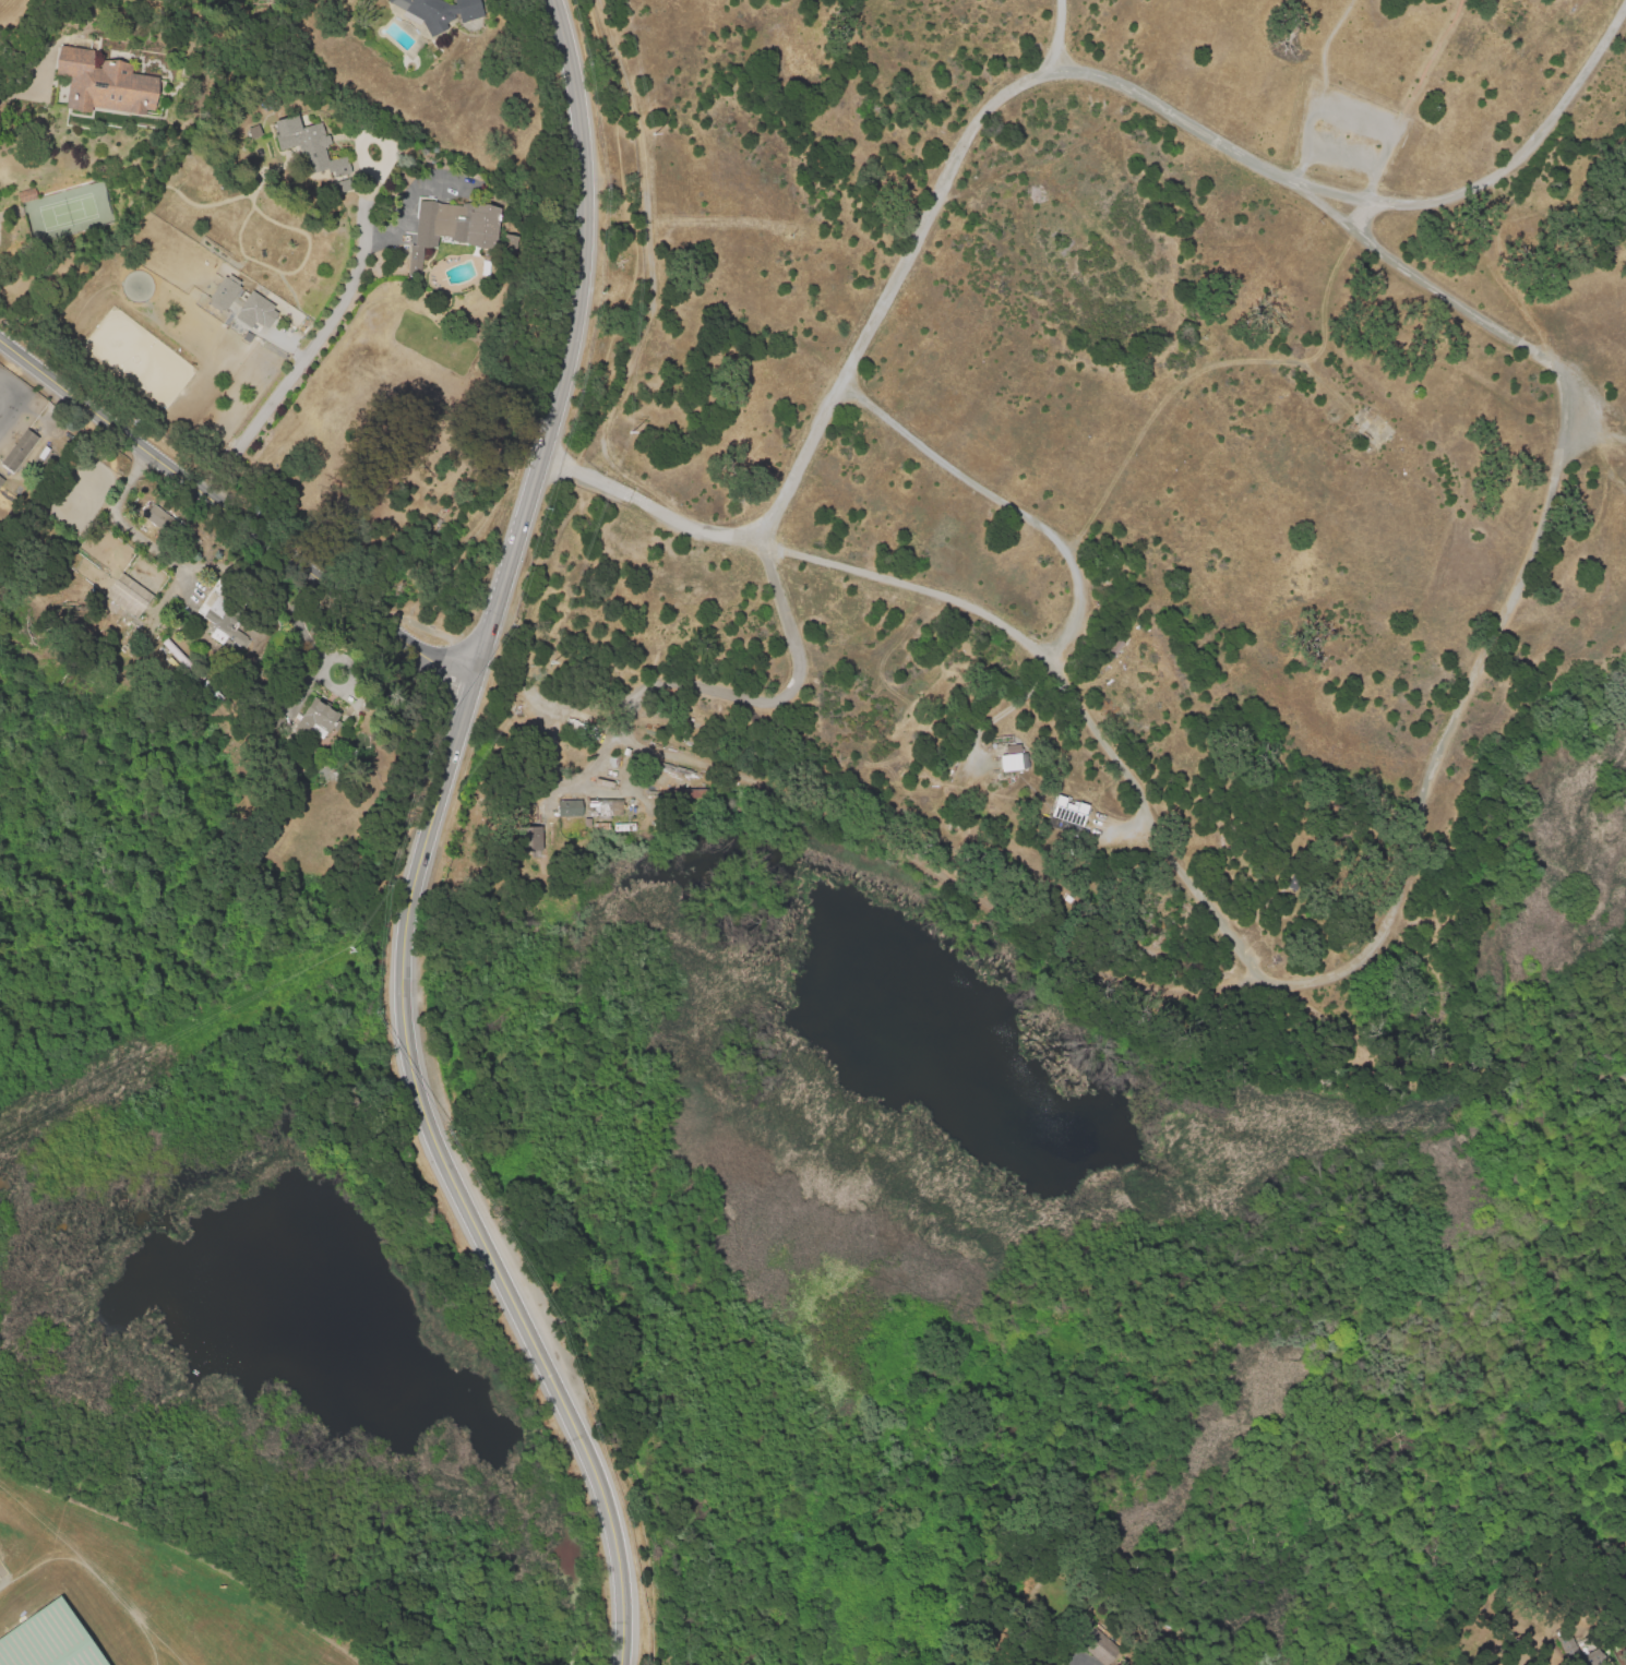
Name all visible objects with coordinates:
building: (439, 13)
road: (1054, 43)
building: (105, 86)
parking lot: (1346, 129)
building: (310, 146)
road: (1230, 147)
road: (1496, 173)
building: (27, 197)
road: (402, 208)
building: (457, 226)
building: (510, 244)
building: (407, 250)
building: (418, 255)
building: (223, 292)
building: (259, 311)
road: (319, 333)
road: (571, 345)
building: (1351, 418)
road: (1598, 432)
building: (1364, 438)
building: (19, 452)
building: (208, 456)
building: (0, 479)
building: (1, 482)
road: (1001, 500)
road: (232, 514)
building: (163, 519)
building: (128, 596)
building: (217, 603)
road: (982, 611)
building: (1116, 648)
road: (883, 649)
building: (989, 708)
building: (703, 711)
building: (666, 718)
building: (318, 720)
building: (562, 732)
building: (1011, 758)
building: (1074, 802)
building: (571, 811)
building: (605, 811)
building: (1052, 811)
building: (1043, 820)
building: (588, 825)
building: (625, 829)
building: (529, 840)
building: (591, 840)
building: (1294, 888)
road: (1038, 942)
road: (1200, 989)
road: (1437, 990)
road: (1318, 1029)
road: (453, 1182)
building: (49, 1639)
park: (49, 1639)
building: (1099, 1648)
building: (1591, 1660)

